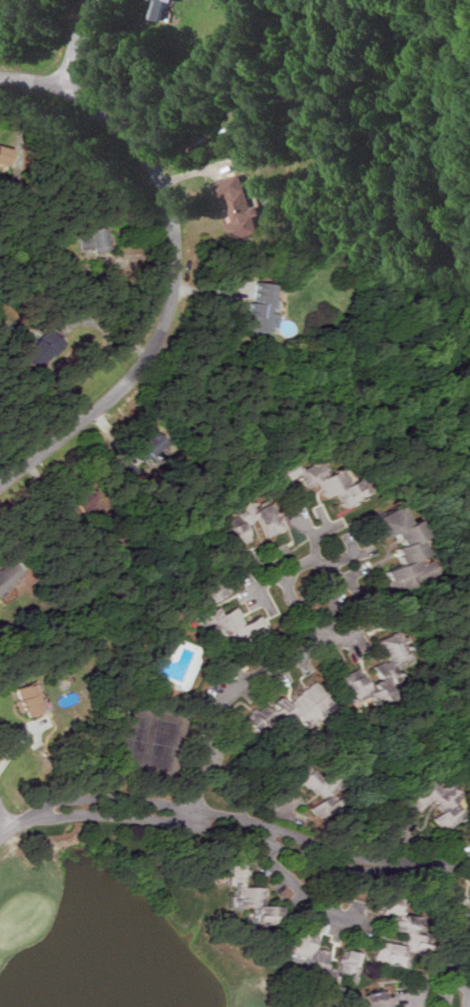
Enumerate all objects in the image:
building: (167, 2)
road: (74, 43)
building: (243, 207)
building: (97, 242)
road: (170, 260)
building: (265, 307)
building: (45, 349)
building: (156, 443)
building: (332, 483)
building: (268, 523)
building: (399, 549)
building: (9, 576)
building: (236, 625)
road: (301, 654)
building: (376, 676)
building: (31, 699)
building: (293, 708)
park: (148, 741)
building: (321, 792)
building: (439, 804)
road: (4, 816)
road: (182, 823)
road: (4, 829)
road: (457, 854)
road: (400, 867)
building: (254, 895)
road: (304, 898)
park: (115, 934)
road: (447, 934)
building: (402, 940)
building: (323, 955)
road: (422, 985)
building: (382, 997)

